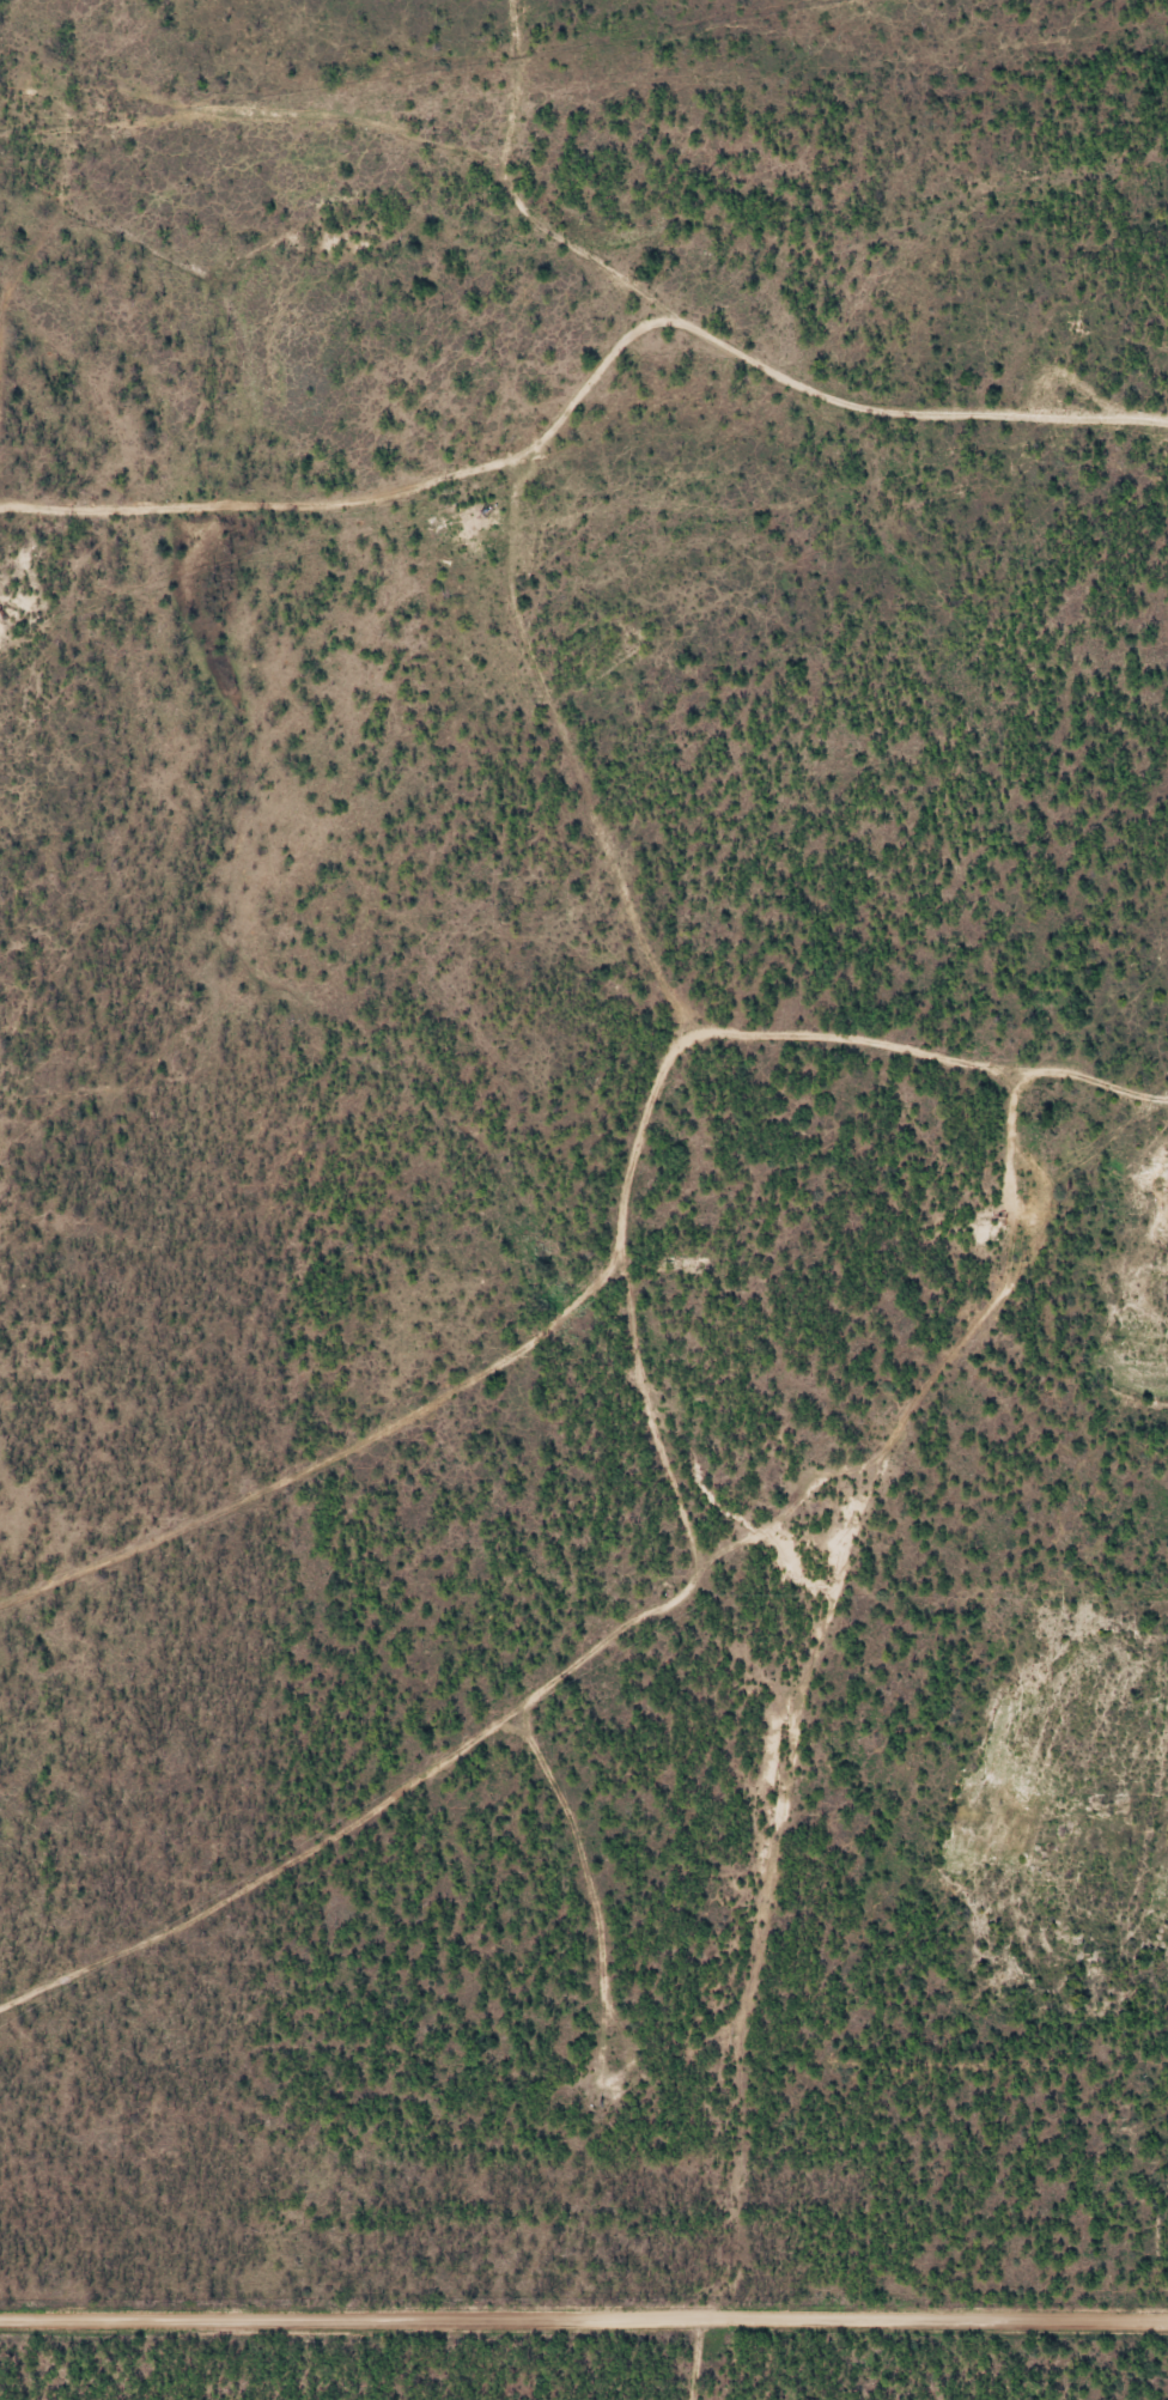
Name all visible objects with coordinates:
road: (512, 107)
road: (548, 233)
road: (474, 593)
road: (613, 1262)
road: (584, 2321)

